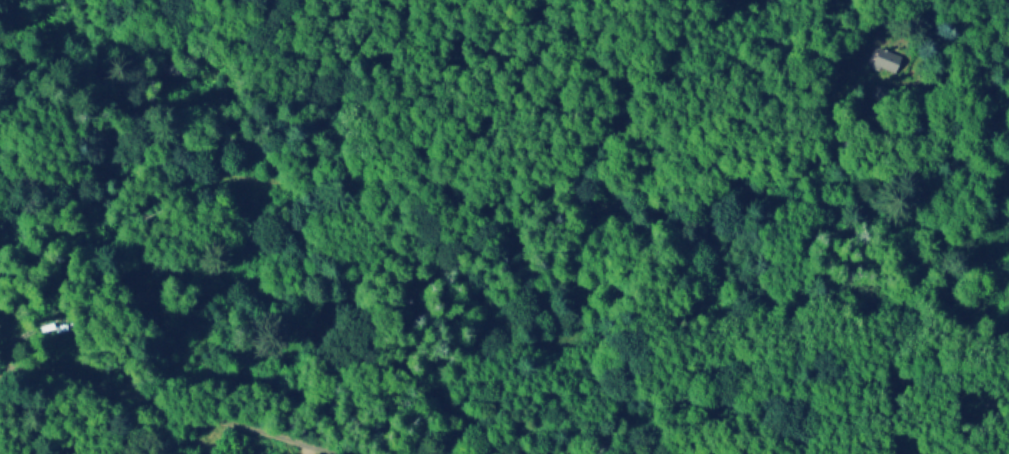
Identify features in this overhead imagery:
road: (743, 13)
building: (887, 60)
road: (515, 194)
road: (167, 404)

